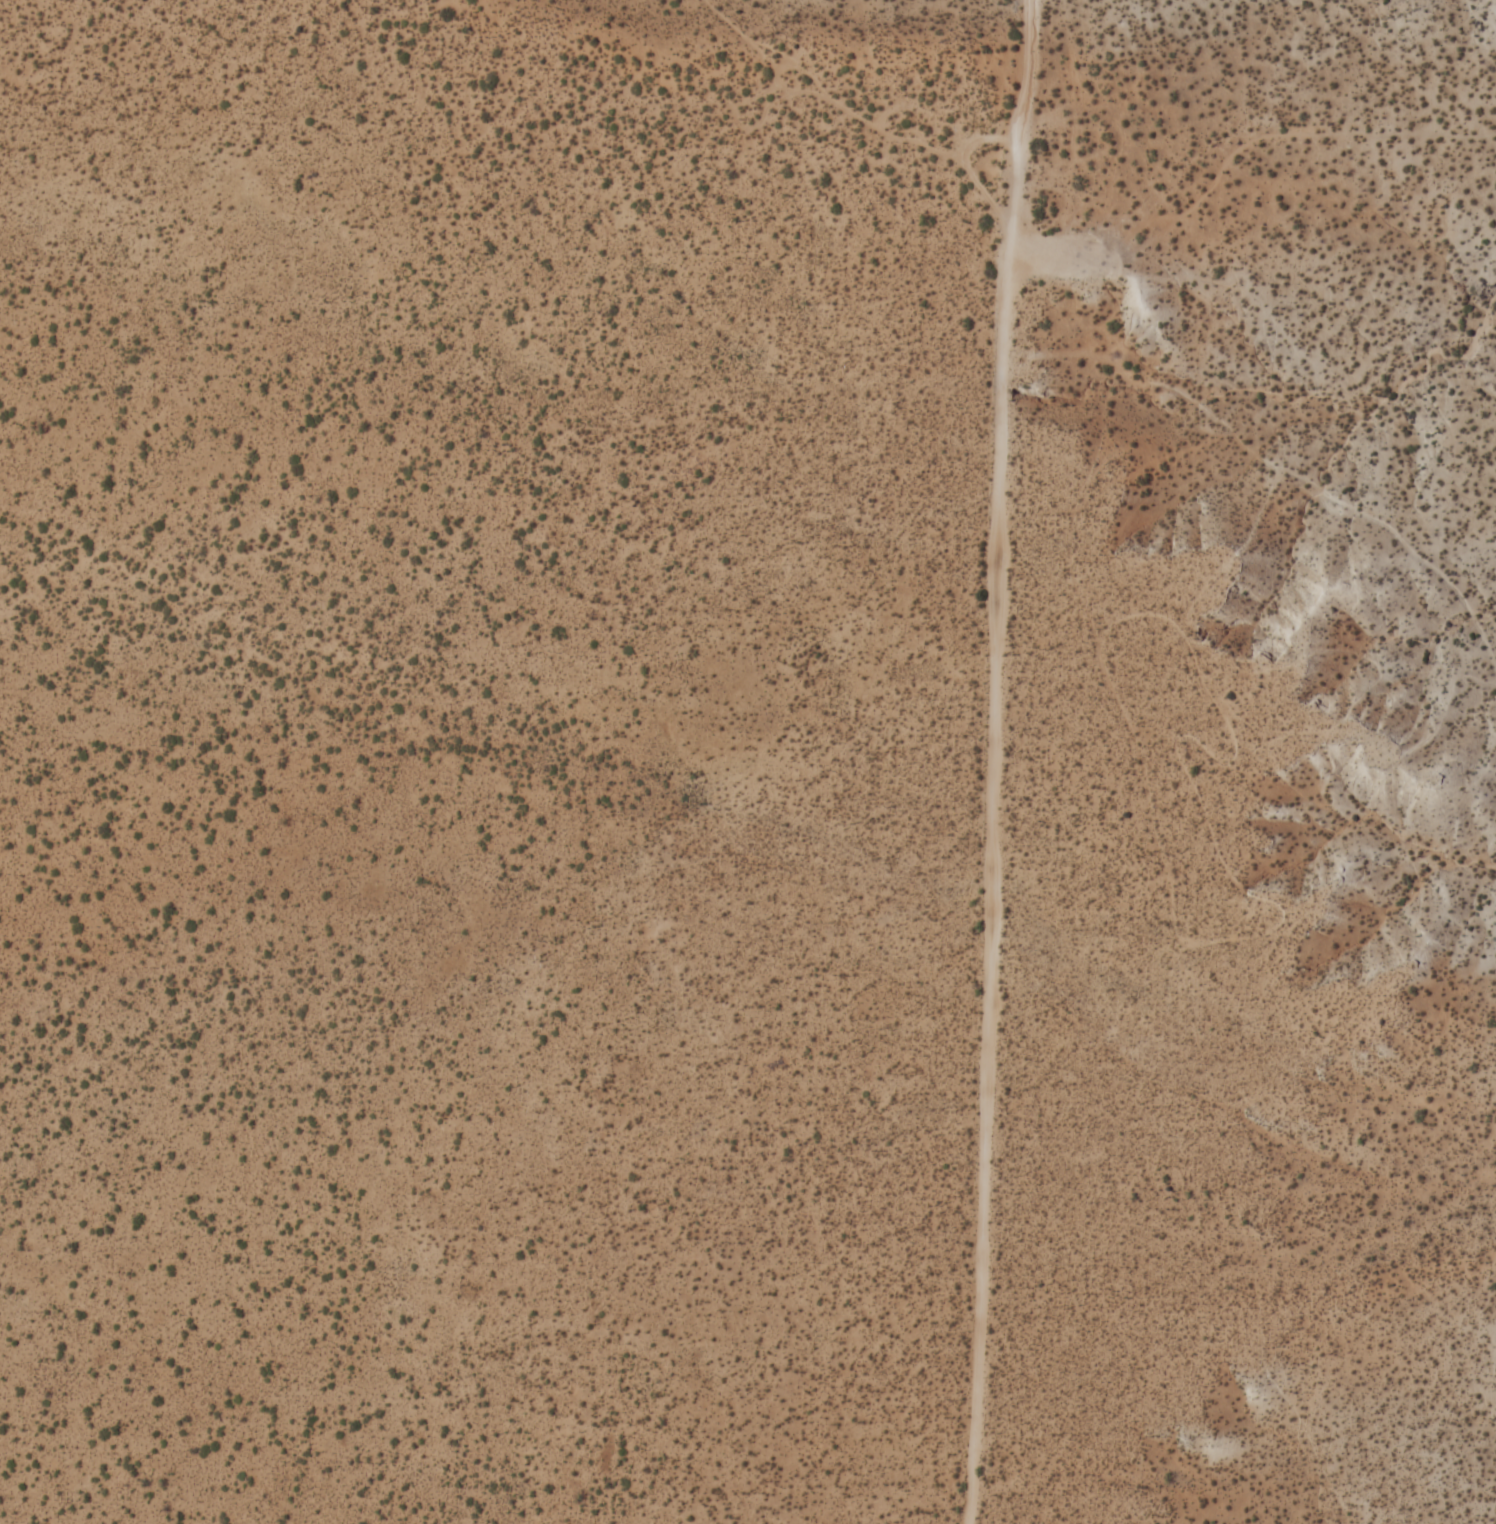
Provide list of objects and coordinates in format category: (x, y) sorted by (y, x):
road: (1229, 151)
parking lot: (1064, 260)
road: (990, 761)

